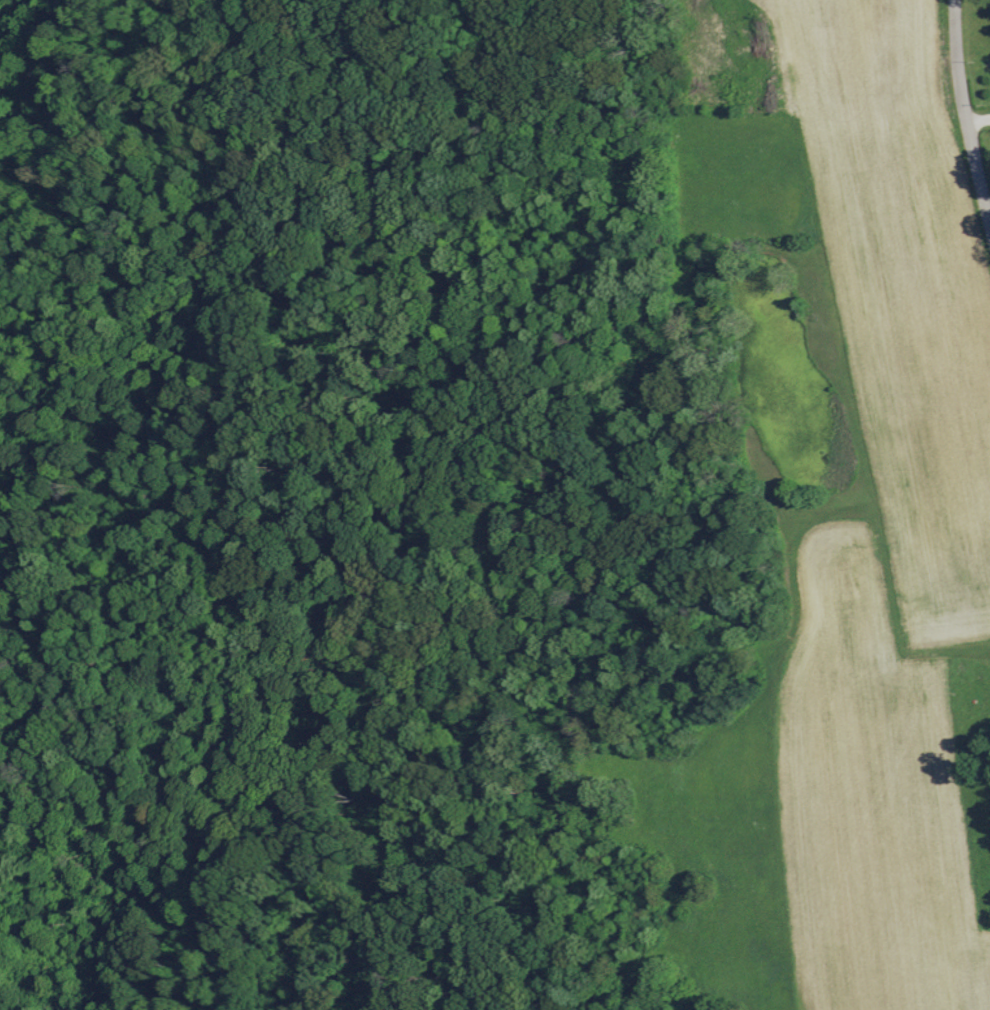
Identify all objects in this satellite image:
road: (965, 112)
road: (978, 121)

